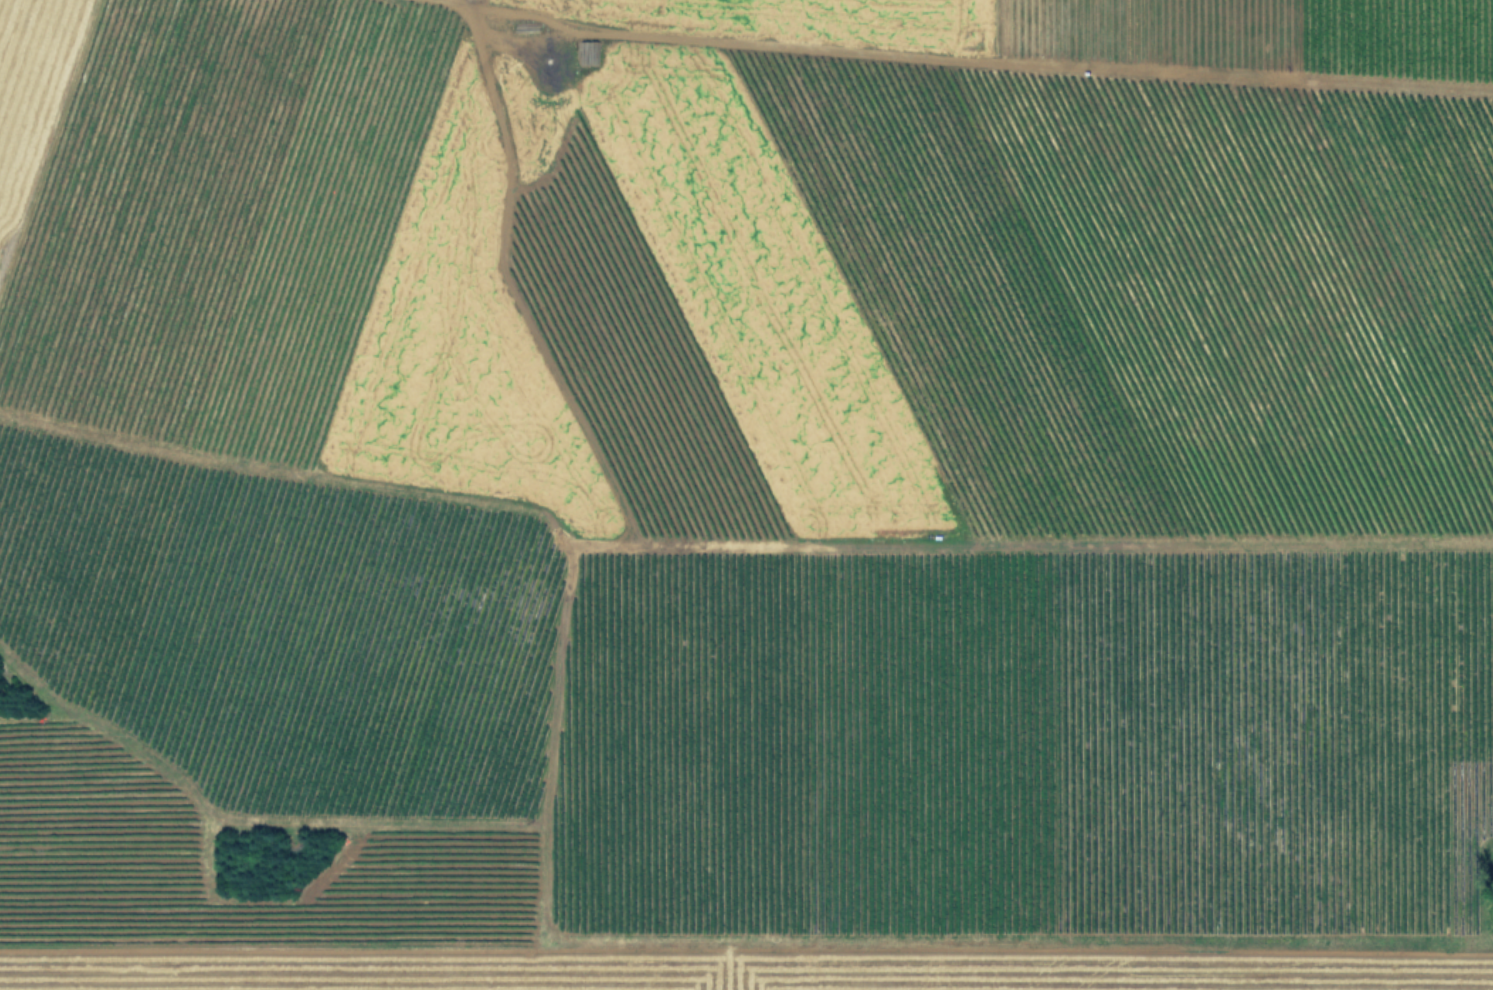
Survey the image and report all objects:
crop: (746, 495)

